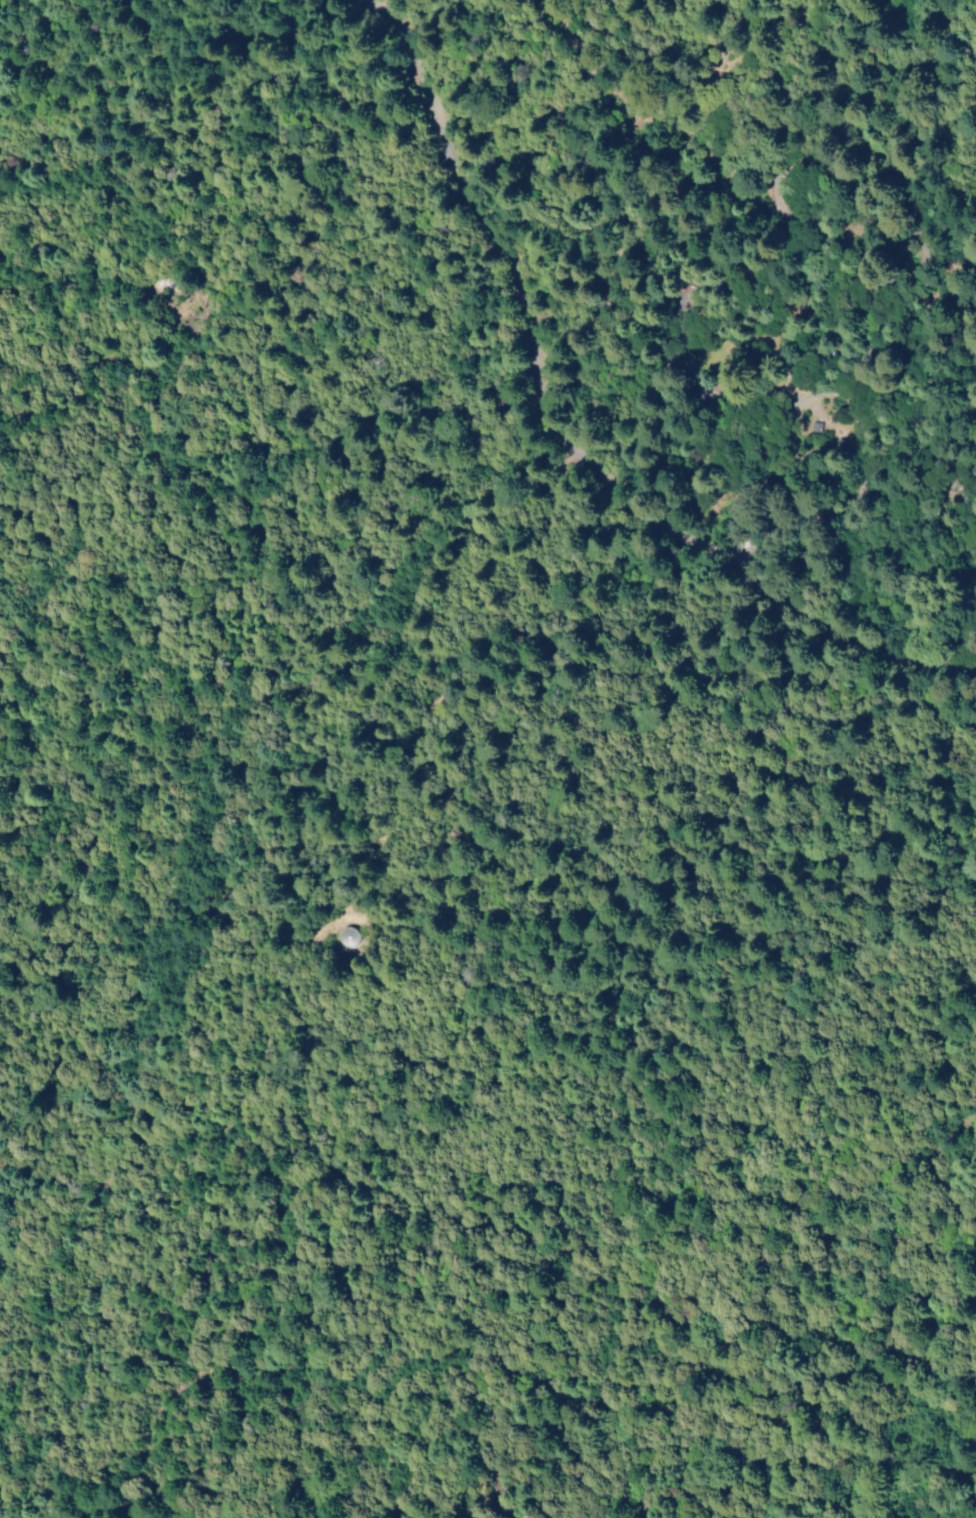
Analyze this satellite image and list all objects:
road: (22, 0)
road: (939, 49)
road: (754, 94)
road: (714, 224)
road: (404, 268)
road: (974, 284)
road: (609, 329)
road: (958, 490)
road: (616, 622)
road: (795, 633)
road: (710, 913)

